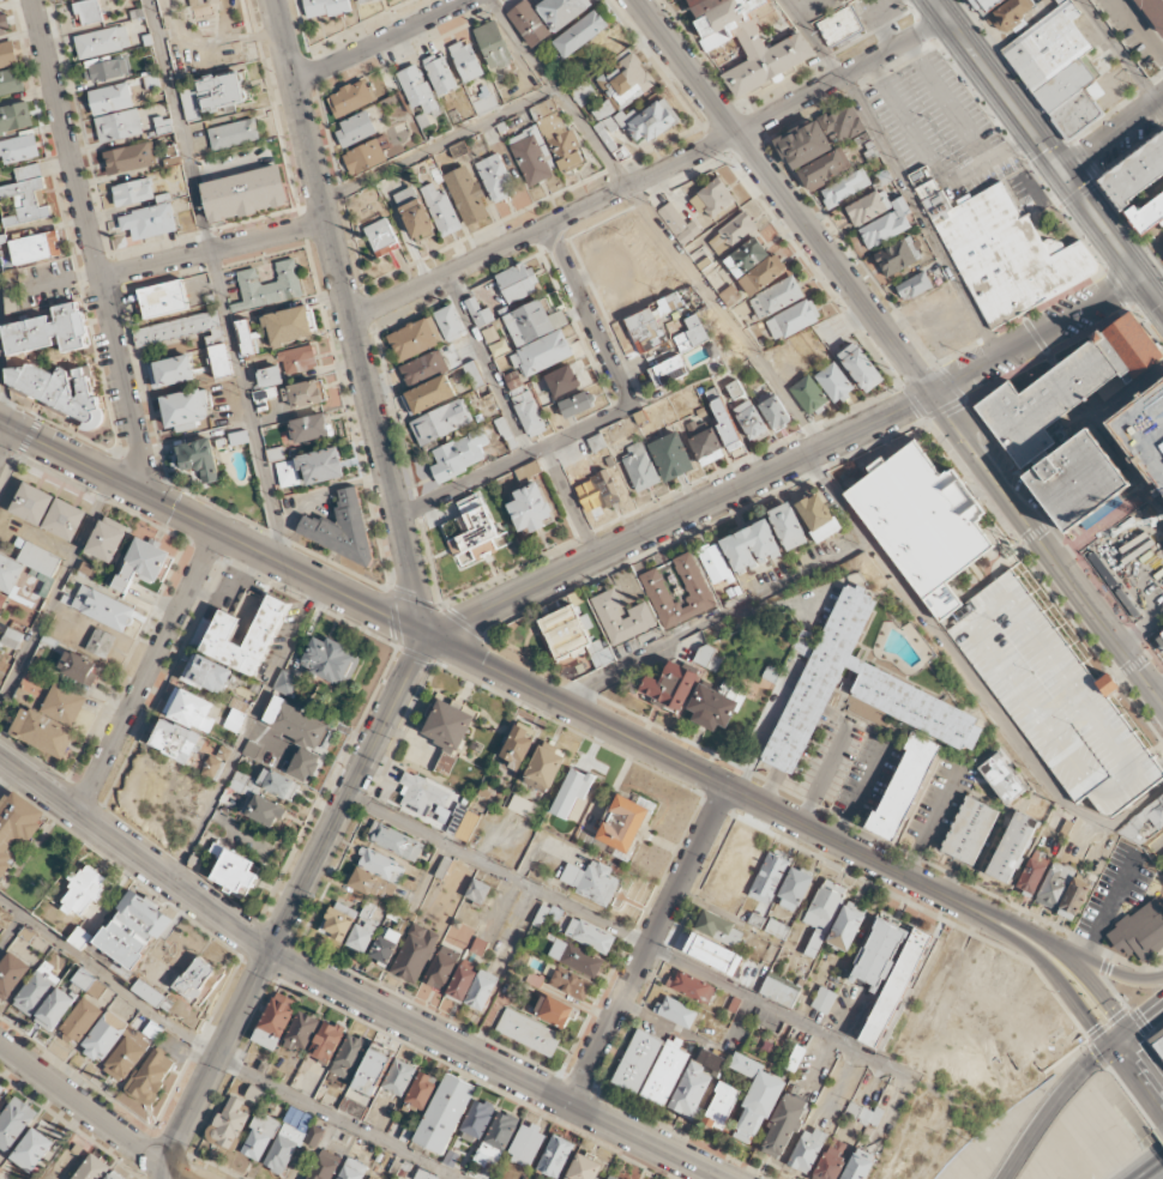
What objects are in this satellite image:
building: (839, 0)
building: (1, 1)
building: (364, 1)
building: (992, 5)
building: (325, 7)
building: (1153, 11)
building: (86, 12)
building: (561, 12)
building: (1013, 16)
building: (529, 23)
building: (4, 24)
building: (840, 25)
building: (580, 34)
parking lot: (1131, 34)
building: (102, 42)
road: (380, 42)
building: (747, 43)
building: (493, 46)
road: (1121, 52)
building: (7, 54)
building: (1053, 58)
building: (466, 61)
building: (106, 71)
building: (440, 74)
building: (10, 81)
road: (999, 89)
building: (417, 90)
building: (221, 91)
building: (583, 93)
building: (622, 97)
building: (110, 98)
building: (351, 98)
building: (191, 104)
road: (1162, 104)
building: (1080, 111)
building: (14, 117)
building: (844, 123)
building: (119, 126)
building: (355, 128)
parking lot: (947, 132)
building: (233, 134)
building: (558, 137)
road: (1114, 140)
road: (439, 144)
building: (803, 145)
building: (19, 149)
building: (366, 156)
building: (532, 156)
building: (129, 158)
railway: (1037, 168)
building: (824, 169)
building: (1135, 173)
road: (898, 174)
road: (651, 175)
building: (495, 177)
traffic signals: (1066, 177)
building: (845, 187)
building: (133, 192)
building: (246, 193)
building: (465, 195)
building: (25, 196)
building: (712, 199)
building: (868, 207)
building: (441, 210)
building: (1146, 213)
building: (414, 214)
building: (149, 222)
road: (658, 223)
building: (677, 224)
building: (887, 224)
building: (731, 234)
building: (381, 237)
road: (1114, 240)
road: (92, 246)
building: (36, 248)
road: (213, 249)
building: (1002, 250)
building: (897, 256)
building: (746, 258)
building: (763, 274)
road: (217, 279)
building: (517, 283)
building: (269, 286)
building: (914, 286)
building: (776, 297)
building: (163, 298)
building: (478, 313)
road: (349, 318)
building: (793, 319)
building: (532, 322)
building: (450, 324)
building: (289, 326)
building: (177, 328)
building: (646, 329)
building: (49, 331)
building: (693, 334)
building: (245, 337)
road: (1038, 337)
building: (415, 338)
railway: (1161, 339)
road: (899, 351)
building: (542, 353)
building: (299, 359)
building: (221, 361)
road: (488, 364)
building: (423, 367)
building: (861, 367)
building: (170, 371)
building: (669, 371)
building: (474, 374)
building: (270, 376)
building: (564, 381)
building: (833, 382)
building: (514, 383)
building: (1066, 388)
building: (60, 392)
building: (736, 392)
building: (307, 393)
building: (430, 394)
building: (808, 395)
road: (1, 397)
building: (577, 404)
building: (185, 410)
building: (775, 412)
building: (529, 415)
road: (603, 421)
building: (751, 421)
building: (441, 422)
building: (725, 425)
parking lot: (1149, 425)
building: (311, 428)
building: (239, 437)
road: (6, 441)
building: (276, 454)
building: (459, 455)
building: (673, 455)
building: (199, 459)
building: (1040, 459)
building: (321, 466)
building: (640, 467)
building: (1083, 482)
building: (604, 489)
road: (572, 502)
building: (32, 503)
building: (530, 508)
road: (680, 516)
building: (818, 516)
building: (924, 518)
building: (65, 519)
building: (788, 526)
building: (341, 528)
road: (213, 530)
building: (471, 531)
building: (107, 542)
building: (751, 546)
building: (38, 560)
building: (141, 564)
building: (715, 564)
parking lot: (1134, 568)
building: (10, 575)
building: (694, 586)
road: (56, 588)
building: (1, 600)
building: (103, 607)
building: (621, 618)
road: (715, 619)
road: (930, 623)
building: (223, 629)
building: (574, 636)
building: (1159, 637)
building: (12, 639)
building: (101, 643)
building: (707, 658)
building: (331, 660)
building: (79, 667)
road: (149, 672)
building: (207, 675)
building: (287, 682)
building: (671, 687)
building: (860, 690)
parking lot: (1051, 695)
building: (1054, 699)
building: (712, 708)
building: (191, 709)
building: (50, 721)
building: (448, 725)
road: (248, 732)
building: (299, 736)
building: (175, 740)
building: (252, 749)
building: (517, 749)
road: (656, 750)
building: (546, 768)
road: (824, 775)
building: (1002, 779)
building: (242, 782)
building: (277, 784)
building: (904, 786)
building: (572, 792)
road: (349, 793)
building: (424, 798)
building: (523, 806)
building: (264, 809)
building: (1146, 822)
building: (463, 823)
building: (623, 823)
building: (17, 826)
building: (970, 830)
building: (394, 841)
building: (1013, 847)
building: (381, 865)
building: (236, 872)
building: (1031, 876)
building: (769, 878)
building: (591, 881)
building: (372, 884)
building: (1054, 885)
building: (795, 889)
building: (85, 891)
building: (477, 891)
building: (1073, 899)
road: (968, 901)
building: (822, 914)
building: (337, 924)
road: (10, 927)
building: (846, 927)
building: (719, 929)
building: (134, 930)
building: (1139, 932)
building: (590, 936)
building: (361, 937)
building: (82, 938)
road: (633, 938)
road: (1011, 939)
road: (650, 944)
building: (384, 948)
building: (415, 954)
building: (713, 954)
building: (878, 955)
building: (576, 957)
building: (442, 967)
road: (1103, 967)
building: (11, 975)
building: (199, 981)
building: (567, 981)
building: (462, 982)
building: (89, 984)
road: (1089, 985)
building: (691, 987)
road: (345, 988)
building: (36, 990)
building: (482, 990)
building: (779, 990)
building: (896, 990)
building: (153, 994)
building: (824, 1000)
building: (55, 1010)
building: (554, 1011)
building: (679, 1014)
building: (82, 1020)
road: (1140, 1020)
building: (275, 1021)
building: (301, 1032)
building: (529, 1032)
traffic signals: (1119, 1039)
building: (1159, 1040)
building: (326, 1042)
building: (115, 1046)
building: (349, 1057)
road: (218, 1058)
building: (795, 1058)
building: (637, 1062)
road: (215, 1063)
road: (1140, 1066)
building: (373, 1069)
building: (664, 1072)
building: (151, 1076)
building: (399, 1077)
building: (695, 1084)
building: (1, 1089)
building: (422, 1090)
road: (1162, 1094)
building: (755, 1098)
road: (1054, 1102)
building: (722, 1106)
road: (94, 1113)
building: (445, 1113)
building: (863, 1114)
building: (477, 1120)
building: (14, 1123)
building: (229, 1124)
building: (784, 1126)
building: (499, 1135)
building: (260, 1137)
building: (291, 1139)
building: (526, 1144)
building: (34, 1150)
building: (808, 1150)
building: (555, 1156)
building: (832, 1160)
building: (860, 1165)
building: (324, 1166)
building: (92, 1168)
building: (585, 1168)
building: (352, 1169)
road: (1152, 1171)
building: (421, 1174)
building: (114, 1175)
building: (610, 1177)
building: (369, 1178)
road: (717, 1178)

